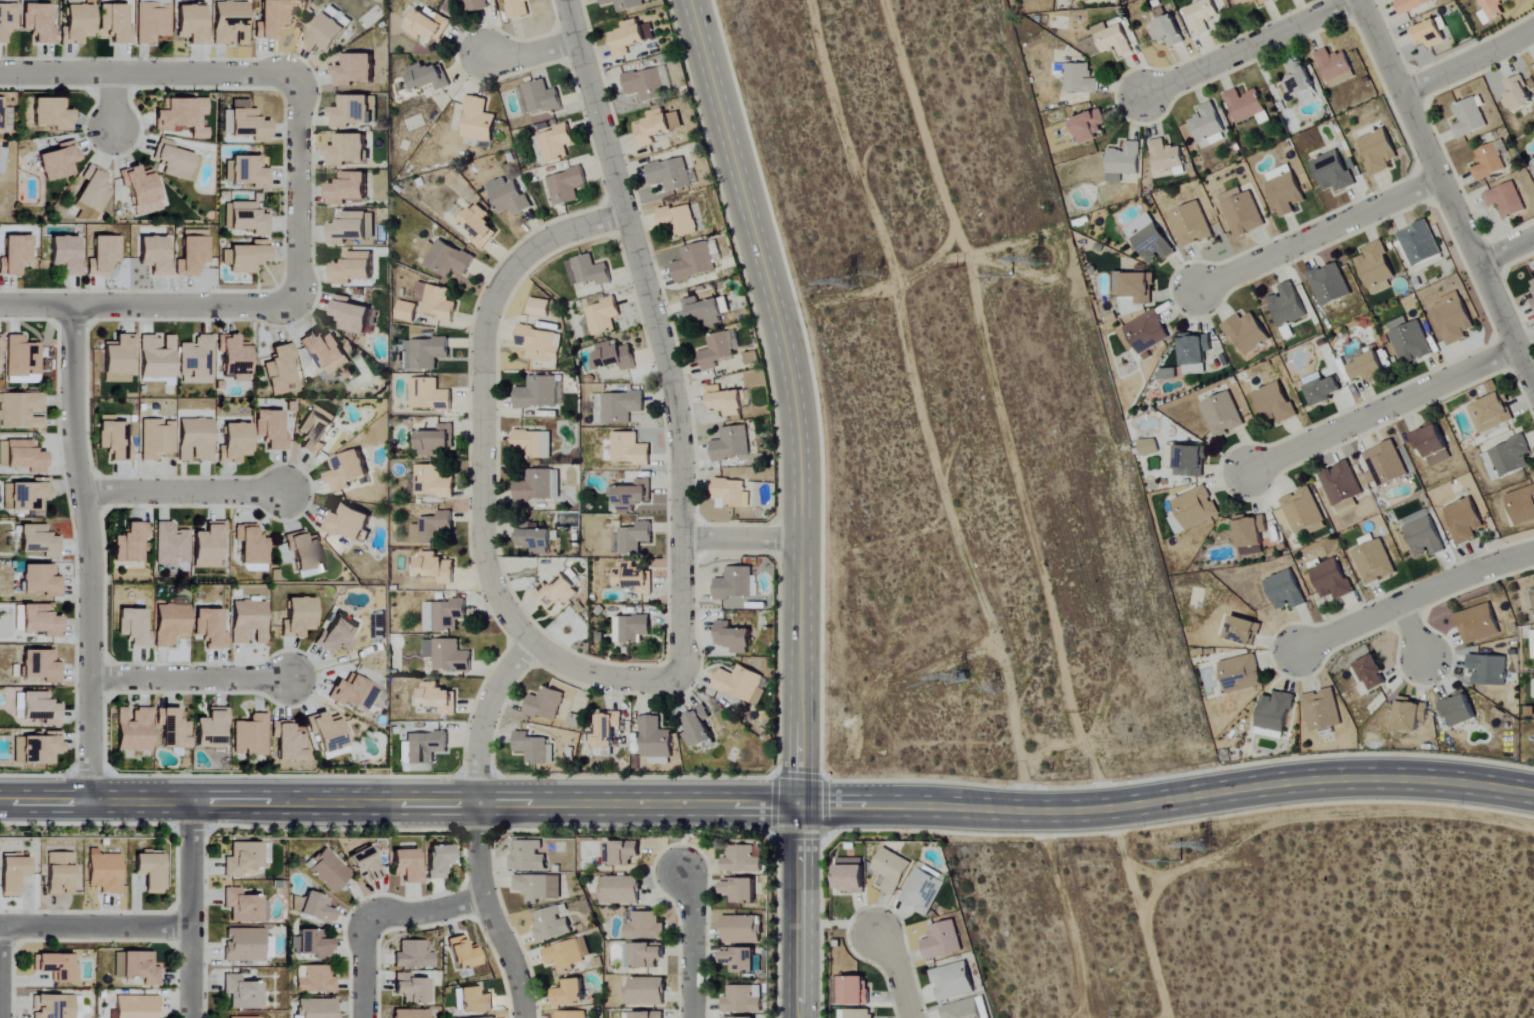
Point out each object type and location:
building: (454, 0)
building: (1088, 0)
building: (1265, 3)
building: (625, 4)
building: (476, 5)
building: (1412, 5)
building: (519, 9)
building: (1492, 10)
building: (1204, 16)
building: (341, 17)
building: (271, 19)
building: (7, 21)
building: (152, 22)
building: (38, 23)
building: (115, 23)
building: (192, 24)
building: (231, 24)
building: (77, 25)
building: (429, 25)
building: (1168, 29)
building: (1430, 34)
building: (326, 36)
building: (631, 38)
building: (1113, 39)
road: (1246, 47)
road: (530, 53)
road: (1468, 62)
building: (1336, 67)
building: (356, 70)
road: (148, 71)
building: (429, 78)
building: (1080, 79)
building: (1300, 82)
building: (646, 85)
building: (1518, 95)
building: (538, 98)
road: (111, 101)
building: (1245, 105)
building: (357, 112)
building: (52, 114)
building: (1, 115)
building: (183, 117)
building: (1469, 118)
building: (478, 121)
building: (248, 123)
building: (657, 126)
building: (1090, 127)
building: (1208, 127)
building: (556, 143)
building: (349, 150)
building: (1380, 152)
building: (1166, 156)
building: (2, 159)
building: (1533, 161)
building: (59, 162)
building: (176, 162)
building: (1124, 162)
building: (1488, 163)
building: (1333, 172)
building: (245, 173)
building: (672, 174)
road: (293, 186)
building: (566, 187)
building: (350, 189)
building: (142, 190)
building: (1286, 190)
road: (1446, 192)
building: (92, 195)
building: (509, 197)
building: (1507, 201)
building: (1242, 213)
building: (245, 219)
building: (679, 220)
building: (1191, 225)
building: (480, 227)
building: (352, 229)
road: (1317, 233)
building: (1150, 239)
building: (1421, 244)
road: (1505, 250)
building: (14, 253)
building: (102, 254)
building: (64, 255)
building: (191, 255)
building: (153, 256)
power tower: (1033, 256)
building: (246, 257)
building: (446, 259)
building: (695, 263)
building: (1378, 267)
power tower: (957, 269)
building: (355, 270)
building: (588, 271)
power tower: (884, 272)
power tower: (1010, 280)
power tower: (863, 283)
power tower: (837, 285)
building: (1330, 285)
building: (1532, 286)
building: (1135, 287)
building: (1533, 301)
building: (436, 302)
road: (145, 304)
building: (540, 308)
building: (1288, 308)
building: (406, 312)
building: (704, 312)
building: (351, 316)
building: (603, 316)
building: (1455, 318)
road: (657, 333)
building: (1247, 333)
building: (1145, 334)
building: (1410, 341)
building: (1, 342)
building: (539, 346)
building: (717, 352)
building: (424, 353)
building: (1196, 353)
building: (118, 354)
building: (329, 354)
building: (21, 355)
building: (155, 356)
building: (614, 357)
building: (235, 358)
building: (751, 359)
building: (196, 361)
building: (1273, 365)
building: (1371, 368)
building: (280, 370)
building: (1326, 392)
building: (539, 393)
building: (429, 395)
building: (725, 401)
building: (1276, 403)
building: (621, 407)
building: (19, 408)
road: (1382, 410)
building: (1492, 414)
building: (1224, 415)
building: (271, 430)
building: (316, 430)
building: (114, 440)
building: (156, 440)
building: (195, 441)
building: (436, 441)
building: (235, 444)
building: (533, 444)
building: (732, 444)
building: (1433, 444)
building: (1149, 447)
building: (628, 450)
building: (21, 454)
building: (1509, 459)
building: (1189, 462)
building: (1386, 465)
building: (348, 471)
road: (481, 472)
building: (433, 483)
building: (556, 484)
building: (1343, 486)
building: (535, 487)
road: (182, 491)
building: (25, 494)
building: (730, 494)
building: (632, 495)
road: (800, 502)
building: (1522, 505)
building: (1197, 508)
building: (1301, 513)
building: (1465, 521)
building: (348, 523)
building: (1177, 524)
building: (432, 528)
building: (1252, 535)
building: (1424, 535)
road: (740, 537)
building: (635, 538)
building: (535, 539)
building: (37, 540)
building: (131, 544)
building: (171, 545)
building: (252, 546)
building: (210, 547)
road: (88, 550)
building: (306, 554)
building: (1375, 563)
building: (437, 568)
building: (256, 569)
building: (634, 578)
building: (40, 579)
building: (1332, 580)
building: (736, 584)
building: (1286, 591)
building: (557, 594)
road: (1412, 599)
building: (733, 604)
building: (444, 616)
building: (36, 618)
building: (299, 619)
building: (249, 623)
building: (1479, 624)
building: (170, 625)
building: (133, 628)
building: (210, 629)
building: (630, 629)
building: (1244, 632)
road: (1413, 633)
building: (339, 635)
building: (734, 638)
building: (1532, 646)
building: (447, 655)
building: (40, 665)
building: (1489, 670)
building: (1242, 674)
building: (1374, 674)
road: (189, 677)
power tower: (975, 680)
building: (740, 683)
power tower: (999, 683)
power tower: (947, 684)
building: (353, 692)
building: (438, 698)
power tower: (1086, 699)
building: (545, 704)
building: (36, 706)
building: (1459, 710)
building: (1274, 716)
building: (1412, 717)
building: (173, 728)
building: (134, 729)
building: (212, 729)
building: (606, 729)
building: (698, 729)
building: (327, 733)
building: (251, 736)
building: (655, 739)
building: (288, 741)
building: (36, 747)
building: (425, 747)
building: (532, 747)
road: (768, 804)
road: (477, 826)
power tower: (1205, 848)
building: (623, 852)
building: (529, 856)
building: (243, 859)
building: (439, 860)
building: (743, 860)
building: (366, 864)
building: (407, 866)
building: (328, 870)
building: (894, 870)
building: (105, 872)
building: (152, 872)
building: (60, 873)
building: (13, 874)
building: (852, 875)
building: (539, 887)
building: (742, 889)
building: (620, 890)
building: (925, 891)
building: (243, 906)
road: (190, 908)
building: (317, 908)
road: (426, 911)
building: (551, 925)
building: (645, 926)
road: (94, 927)
building: (741, 930)
building: (944, 940)
building: (311, 944)
building: (244, 945)
road: (691, 945)
building: (463, 953)
building: (569, 954)
building: (414, 955)
building: (648, 955)
building: (742, 959)
building: (56, 966)
building: (136, 967)
road: (364, 970)
road: (895, 973)
building: (314, 979)
building: (954, 981)
building: (412, 988)
building: (856, 990)
building: (646, 992)
building: (242, 993)
building: (571, 993)
building: (475, 1000)
building: (742, 1000)
building: (53, 1006)
building: (137, 1007)
building: (316, 1008)
building: (965, 1009)
building: (860, 1013)
building: (411, 1014)
building: (571, 1014)
building: (648, 1015)
building: (238, 1017)
building: (493, 1017)
building: (733, 1017)

